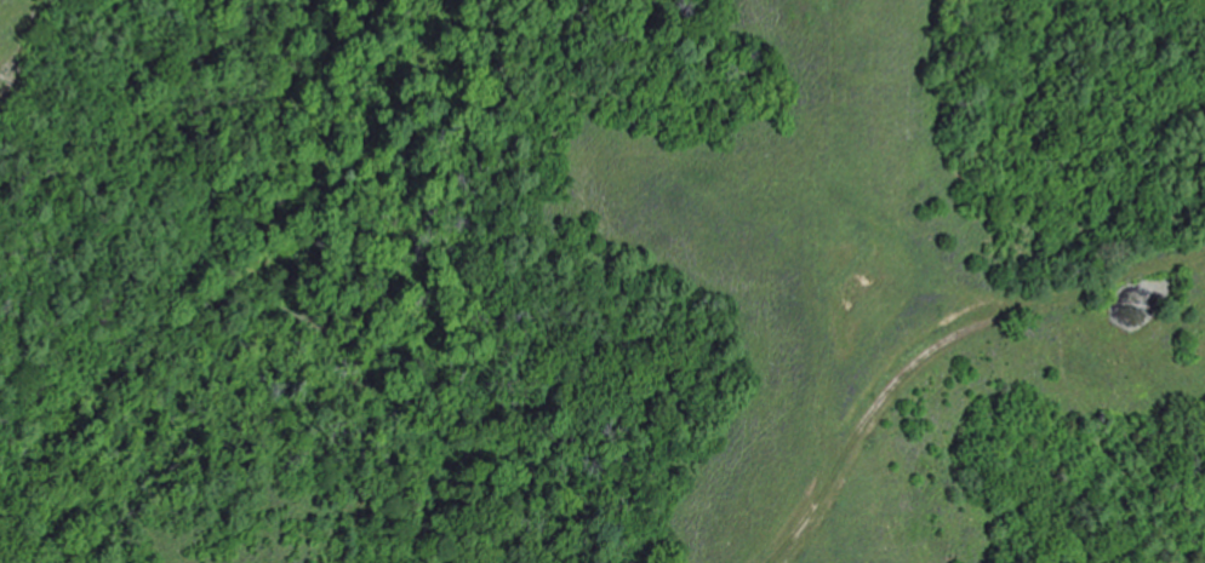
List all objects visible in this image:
road: (943, 347)

